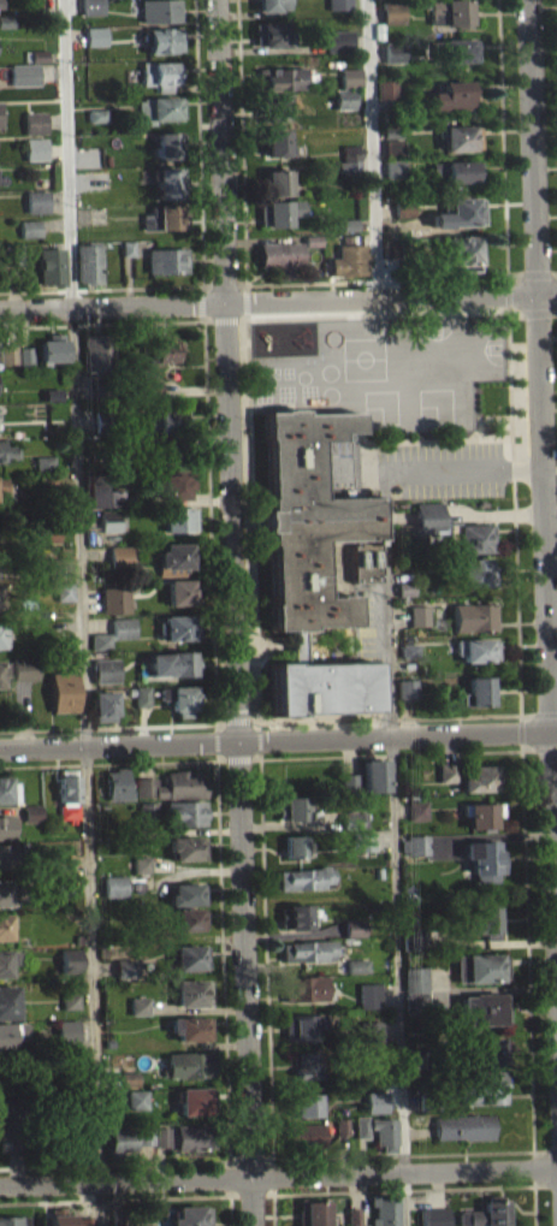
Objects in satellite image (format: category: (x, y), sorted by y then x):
building: (0, 4)
building: (267, 5)
building: (338, 5)
building: (90, 7)
building: (159, 11)
building: (391, 11)
building: (449, 12)
building: (5, 22)
building: (268, 34)
building: (95, 35)
building: (162, 40)
building: (338, 41)
building: (455, 49)
building: (392, 52)
building: (37, 55)
building: (37, 64)
building: (23, 73)
building: (159, 73)
building: (349, 77)
building: (278, 79)
building: (385, 88)
building: (450, 96)
building: (342, 97)
building: (269, 107)
building: (158, 108)
building: (96, 114)
building: (34, 122)
building: (95, 123)
building: (391, 131)
building: (457, 136)
building: (274, 143)
building: (167, 144)
road: (502, 144)
road: (371, 147)
building: (35, 148)
building: (391, 148)
road: (219, 149)
road: (239, 149)
building: (350, 156)
road: (197, 165)
building: (392, 168)
building: (455, 170)
building: (100, 178)
building: (275, 182)
building: (167, 183)
building: (36, 201)
building: (402, 207)
building: (275, 212)
building: (461, 212)
building: (402, 215)
building: (164, 218)
building: (346, 224)
building: (29, 227)
building: (348, 232)
building: (29, 236)
building: (309, 239)
building: (126, 248)
building: (387, 248)
building: (457, 251)
building: (13, 253)
building: (389, 256)
building: (278, 257)
building: (166, 260)
building: (348, 260)
building: (89, 263)
building: (51, 266)
road: (531, 276)
road: (375, 279)
road: (100, 289)
road: (390, 294)
road: (506, 302)
road: (111, 303)
road: (546, 310)
road: (200, 313)
road: (366, 316)
road: (100, 324)
building: (51, 348)
building: (166, 350)
building: (7, 353)
building: (24, 354)
building: (97, 354)
building: (7, 362)
building: (24, 363)
building: (150, 387)
building: (101, 389)
building: (49, 392)
building: (51, 402)
road: (484, 415)
building: (105, 420)
building: (166, 420)
road: (478, 420)
road: (438, 438)
building: (123, 445)
building: (6, 450)
road: (366, 451)
building: (170, 452)
building: (7, 461)
building: (42, 462)
building: (165, 462)
road: (460, 468)
parking lot: (411, 469)
road: (366, 470)
building: (43, 479)
building: (2, 484)
building: (174, 485)
building: (2, 492)
building: (101, 493)
road: (512, 499)
road: (540, 508)
building: (426, 517)
building: (179, 520)
road: (251, 520)
building: (109, 521)
road: (230, 521)
building: (48, 531)
road: (211, 531)
building: (468, 537)
building: (49, 544)
building: (119, 557)
building: (174, 557)
building: (48, 561)
building: (314, 561)
building: (470, 570)
building: (61, 588)
building: (403, 588)
building: (182, 593)
building: (403, 597)
building: (63, 599)
building: (114, 599)
road: (81, 612)
building: (417, 615)
building: (472, 616)
parking lot: (366, 622)
road: (385, 627)
building: (122, 628)
building: (179, 628)
building: (2, 633)
building: (101, 641)
building: (408, 650)
building: (474, 650)
building: (57, 657)
building: (408, 658)
building: (172, 664)
building: (23, 667)
building: (1, 669)
building: (106, 669)
building: (1, 682)
building: (404, 687)
building: (61, 689)
building: (476, 692)
building: (140, 695)
building: (180, 700)
building: (103, 706)
road: (551, 712)
road: (467, 716)
road: (324, 719)
road: (248, 722)
road: (107, 727)
road: (397, 735)
road: (118, 742)
road: (552, 748)
road: (534, 750)
road: (390, 754)
road: (249, 758)
road: (227, 759)
road: (107, 763)
building: (448, 772)
building: (373, 775)
building: (479, 778)
building: (348, 782)
building: (117, 784)
building: (171, 786)
building: (6, 789)
building: (67, 793)
building: (292, 809)
building: (416, 810)
building: (147, 811)
building: (31, 812)
building: (184, 812)
building: (480, 815)
building: (352, 819)
building: (30, 821)
building: (148, 823)
building: (5, 825)
building: (352, 828)
building: (361, 840)
building: (414, 843)
building: (297, 846)
building: (186, 847)
building: (6, 854)
building: (482, 859)
building: (141, 864)
building: (61, 865)
building: (141, 872)
building: (61, 876)
building: (304, 878)
building: (114, 886)
building: (61, 890)
building: (4, 893)
building: (185, 894)
building: (295, 916)
building: (189, 918)
building: (484, 918)
building: (4, 926)
building: (354, 928)
road: (527, 931)
building: (156, 932)
building: (410, 940)
road: (221, 941)
building: (309, 950)
building: (188, 956)
road: (244, 959)
building: (7, 960)
road: (397, 963)
building: (356, 965)
road: (266, 966)
building: (491, 966)
building: (69, 967)
building: (125, 967)
building: (356, 973)
building: (414, 979)
building: (307, 988)
building: (191, 993)
building: (368, 995)
building: (70, 999)
building: (5, 1001)
building: (415, 1002)
building: (138, 1005)
building: (70, 1008)
building: (482, 1008)
building: (189, 1026)
building: (302, 1026)
building: (66, 1029)
building: (369, 1031)
building: (8, 1035)
building: (67, 1040)
building: (484, 1050)
building: (188, 1064)
building: (306, 1065)
building: (130, 1079)
building: (497, 1082)
building: (129, 1086)
building: (479, 1097)
building: (136, 1098)
building: (194, 1100)
building: (375, 1102)
building: (303, 1104)
building: (340, 1125)
building: (360, 1126)
building: (463, 1126)
building: (8, 1130)
building: (383, 1132)
building: (303, 1135)
building: (144, 1136)
building: (161, 1136)
building: (191, 1137)
building: (118, 1142)
road: (545, 1149)
road: (420, 1154)
road: (135, 1163)
road: (278, 1175)
road: (229, 1178)
road: (545, 1184)
road: (403, 1190)
road: (251, 1195)
road: (114, 1198)
road: (404, 1198)
road: (253, 1201)
road: (534, 1206)
road: (273, 1209)
building: (384, 1209)
road: (230, 1210)
building: (312, 1213)
building: (486, 1213)
building: (188, 1215)
building: (352, 1216)
building: (433, 1216)
building: (59, 1218)
building: (13, 1220)
building: (84, 1220)

